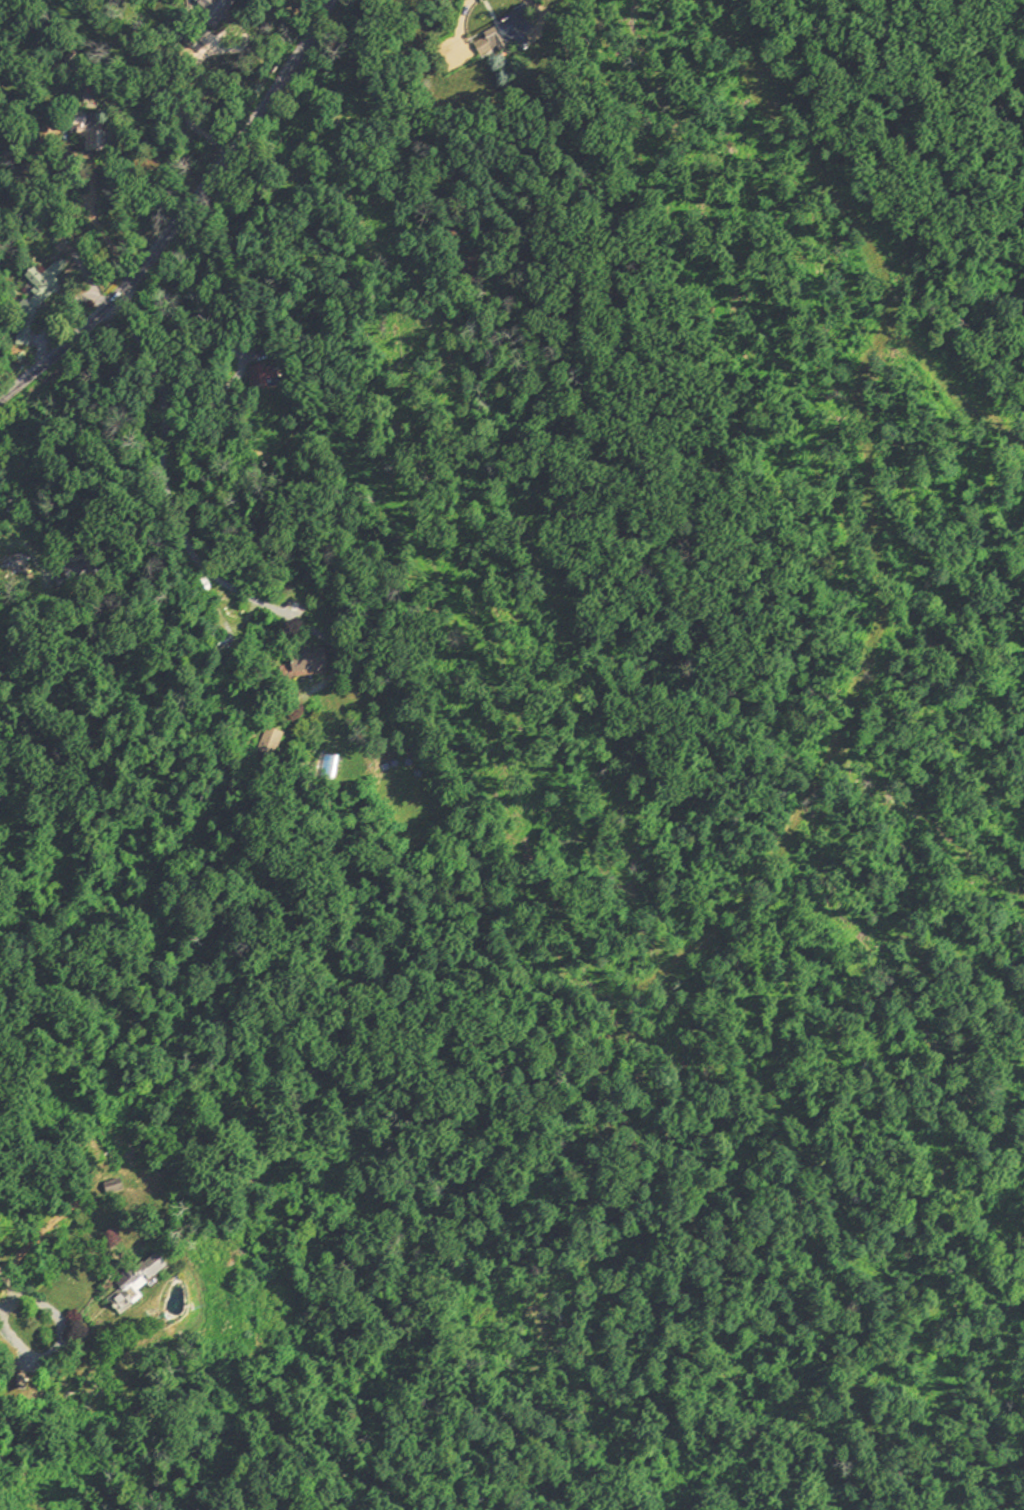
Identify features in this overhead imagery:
building: (509, 35)
road: (183, 214)
building: (45, 290)
road: (140, 349)
road: (220, 580)
road: (38, 1275)
building: (152, 1276)
road: (2, 1279)

